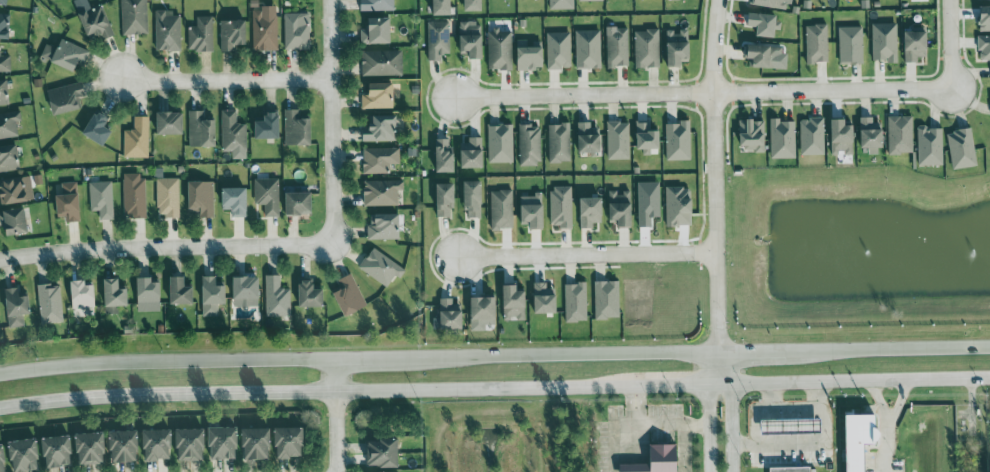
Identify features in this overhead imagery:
building: (580, 0)
building: (673, 0)
building: (0, 1)
building: (771, 4)
building: (376, 5)
building: (467, 5)
building: (559, 5)
building: (439, 6)
building: (982, 14)
building: (132, 16)
building: (92, 20)
building: (758, 23)
building: (3, 25)
building: (374, 28)
building: (295, 29)
building: (230, 32)
building: (261, 32)
building: (165, 33)
building: (197, 34)
building: (465, 37)
building: (435, 38)
building: (882, 40)
building: (814, 42)
building: (614, 44)
building: (848, 44)
road: (951, 44)
building: (644, 46)
building: (911, 46)
building: (983, 46)
building: (675, 47)
building: (585, 48)
building: (496, 49)
building: (555, 49)
building: (62, 53)
building: (762, 53)
building: (525, 57)
building: (3, 62)
building: (380, 62)
building: (989, 67)
road: (227, 78)
road: (703, 92)
building: (2, 93)
building: (374, 94)
building: (63, 96)
building: (166, 120)
building: (8, 121)
road: (329, 122)
building: (376, 126)
building: (95, 127)
building: (262, 127)
building: (294, 127)
building: (198, 129)
building: (644, 130)
building: (230, 131)
building: (897, 133)
building: (810, 134)
building: (867, 134)
building: (749, 135)
building: (838, 135)
building: (134, 137)
building: (779, 137)
building: (588, 139)
building: (614, 139)
building: (555, 141)
building: (678, 141)
building: (496, 142)
building: (527, 143)
building: (928, 145)
building: (959, 147)
building: (440, 152)
building: (469, 153)
building: (7, 158)
building: (378, 159)
road: (714, 176)
building: (14, 188)
building: (378, 191)
building: (132, 194)
building: (264, 195)
building: (468, 196)
building: (165, 198)
building: (200, 198)
building: (440, 198)
building: (99, 199)
building: (231, 200)
building: (295, 200)
building: (558, 205)
building: (615, 205)
building: (674, 205)
building: (64, 206)
building: (497, 207)
building: (531, 210)
building: (586, 210)
building: (10, 218)
building: (381, 225)
road: (164, 251)
road: (586, 255)
building: (378, 266)
building: (241, 285)
building: (175, 288)
building: (110, 291)
building: (305, 291)
building: (77, 292)
building: (144, 292)
building: (346, 292)
building: (208, 294)
building: (275, 296)
building: (538, 297)
building: (48, 300)
building: (509, 300)
building: (604, 300)
building: (573, 301)
building: (12, 304)
building: (479, 307)
building: (447, 315)
road: (890, 351)
road: (754, 353)
road: (359, 360)
road: (713, 369)
road: (861, 380)
road: (683, 385)
road: (316, 395)
road: (820, 396)
road: (772, 397)
road: (733, 411)
road: (338, 416)
road: (889, 418)
road: (828, 421)
road: (652, 425)
building: (796, 427)
road: (709, 428)
road: (611, 438)
building: (286, 439)
building: (184, 440)
building: (220, 440)
building: (862, 440)
building: (250, 441)
building: (153, 442)
building: (120, 446)
road: (888, 446)
building: (87, 447)
building: (54, 448)
building: (20, 453)
building: (384, 453)
building: (3, 459)
building: (657, 460)
building: (794, 469)

